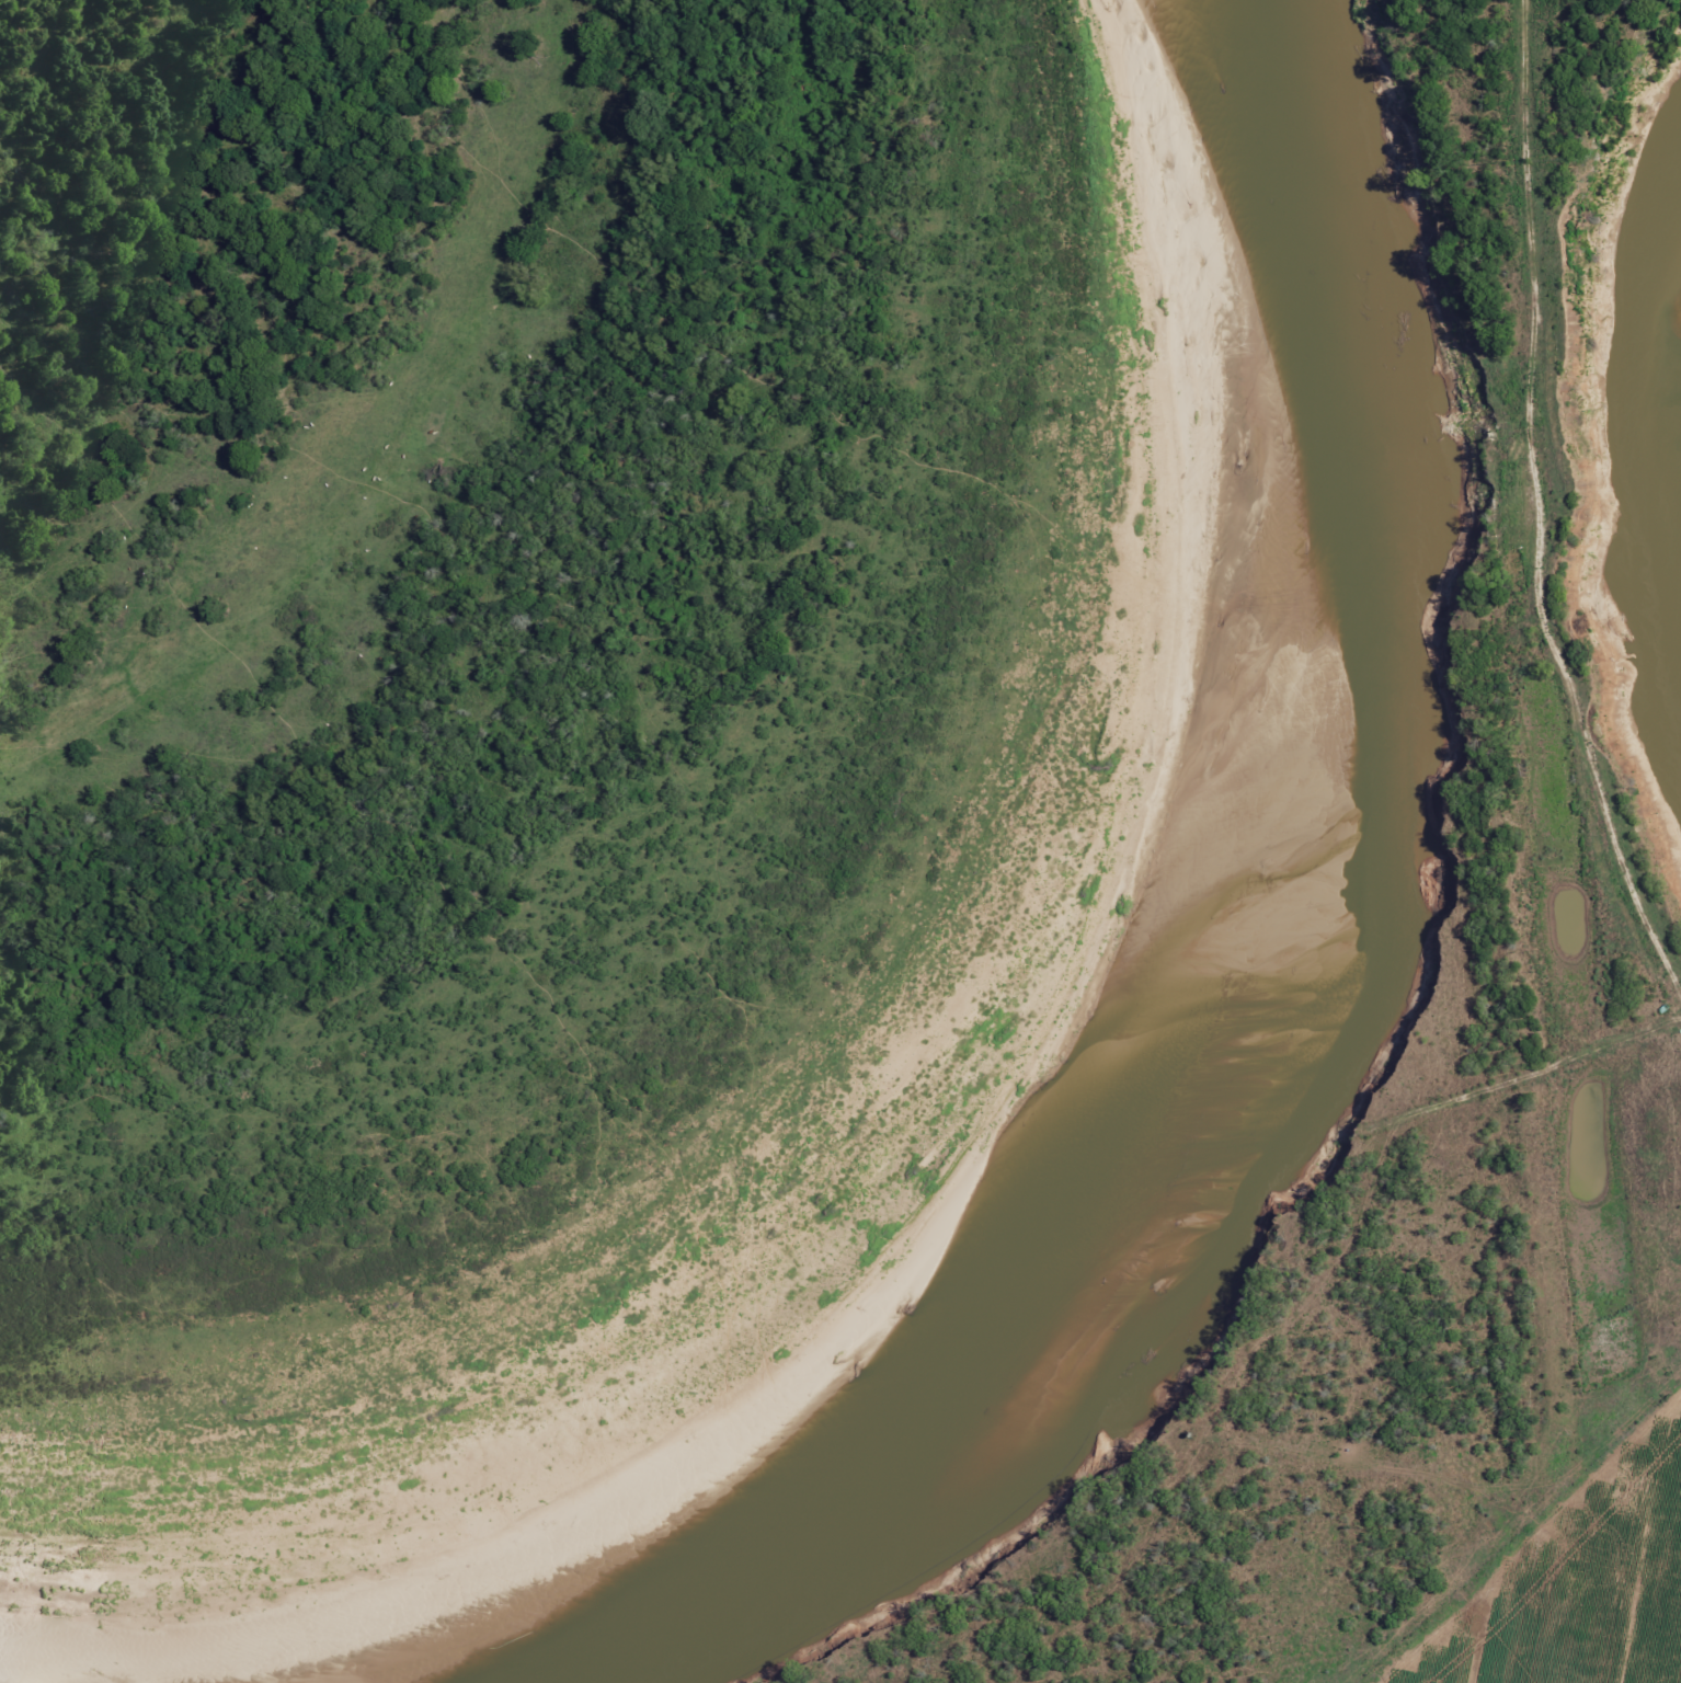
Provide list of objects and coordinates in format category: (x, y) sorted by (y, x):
road: (1539, 508)
river: (992, 1080)

